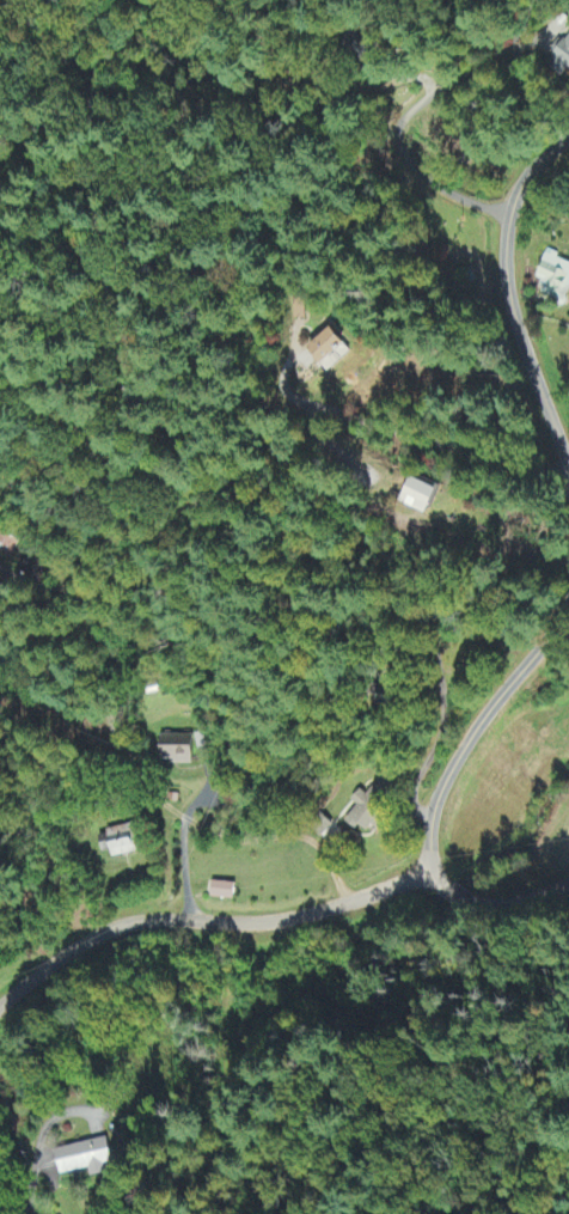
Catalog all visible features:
building: (562, 60)
road: (410, 111)
building: (555, 279)
road: (513, 295)
building: (319, 347)
road: (476, 730)
building: (182, 750)
road: (145, 804)
building: (367, 813)
building: (123, 843)
building: (226, 892)
road: (282, 917)
building: (88, 1159)

